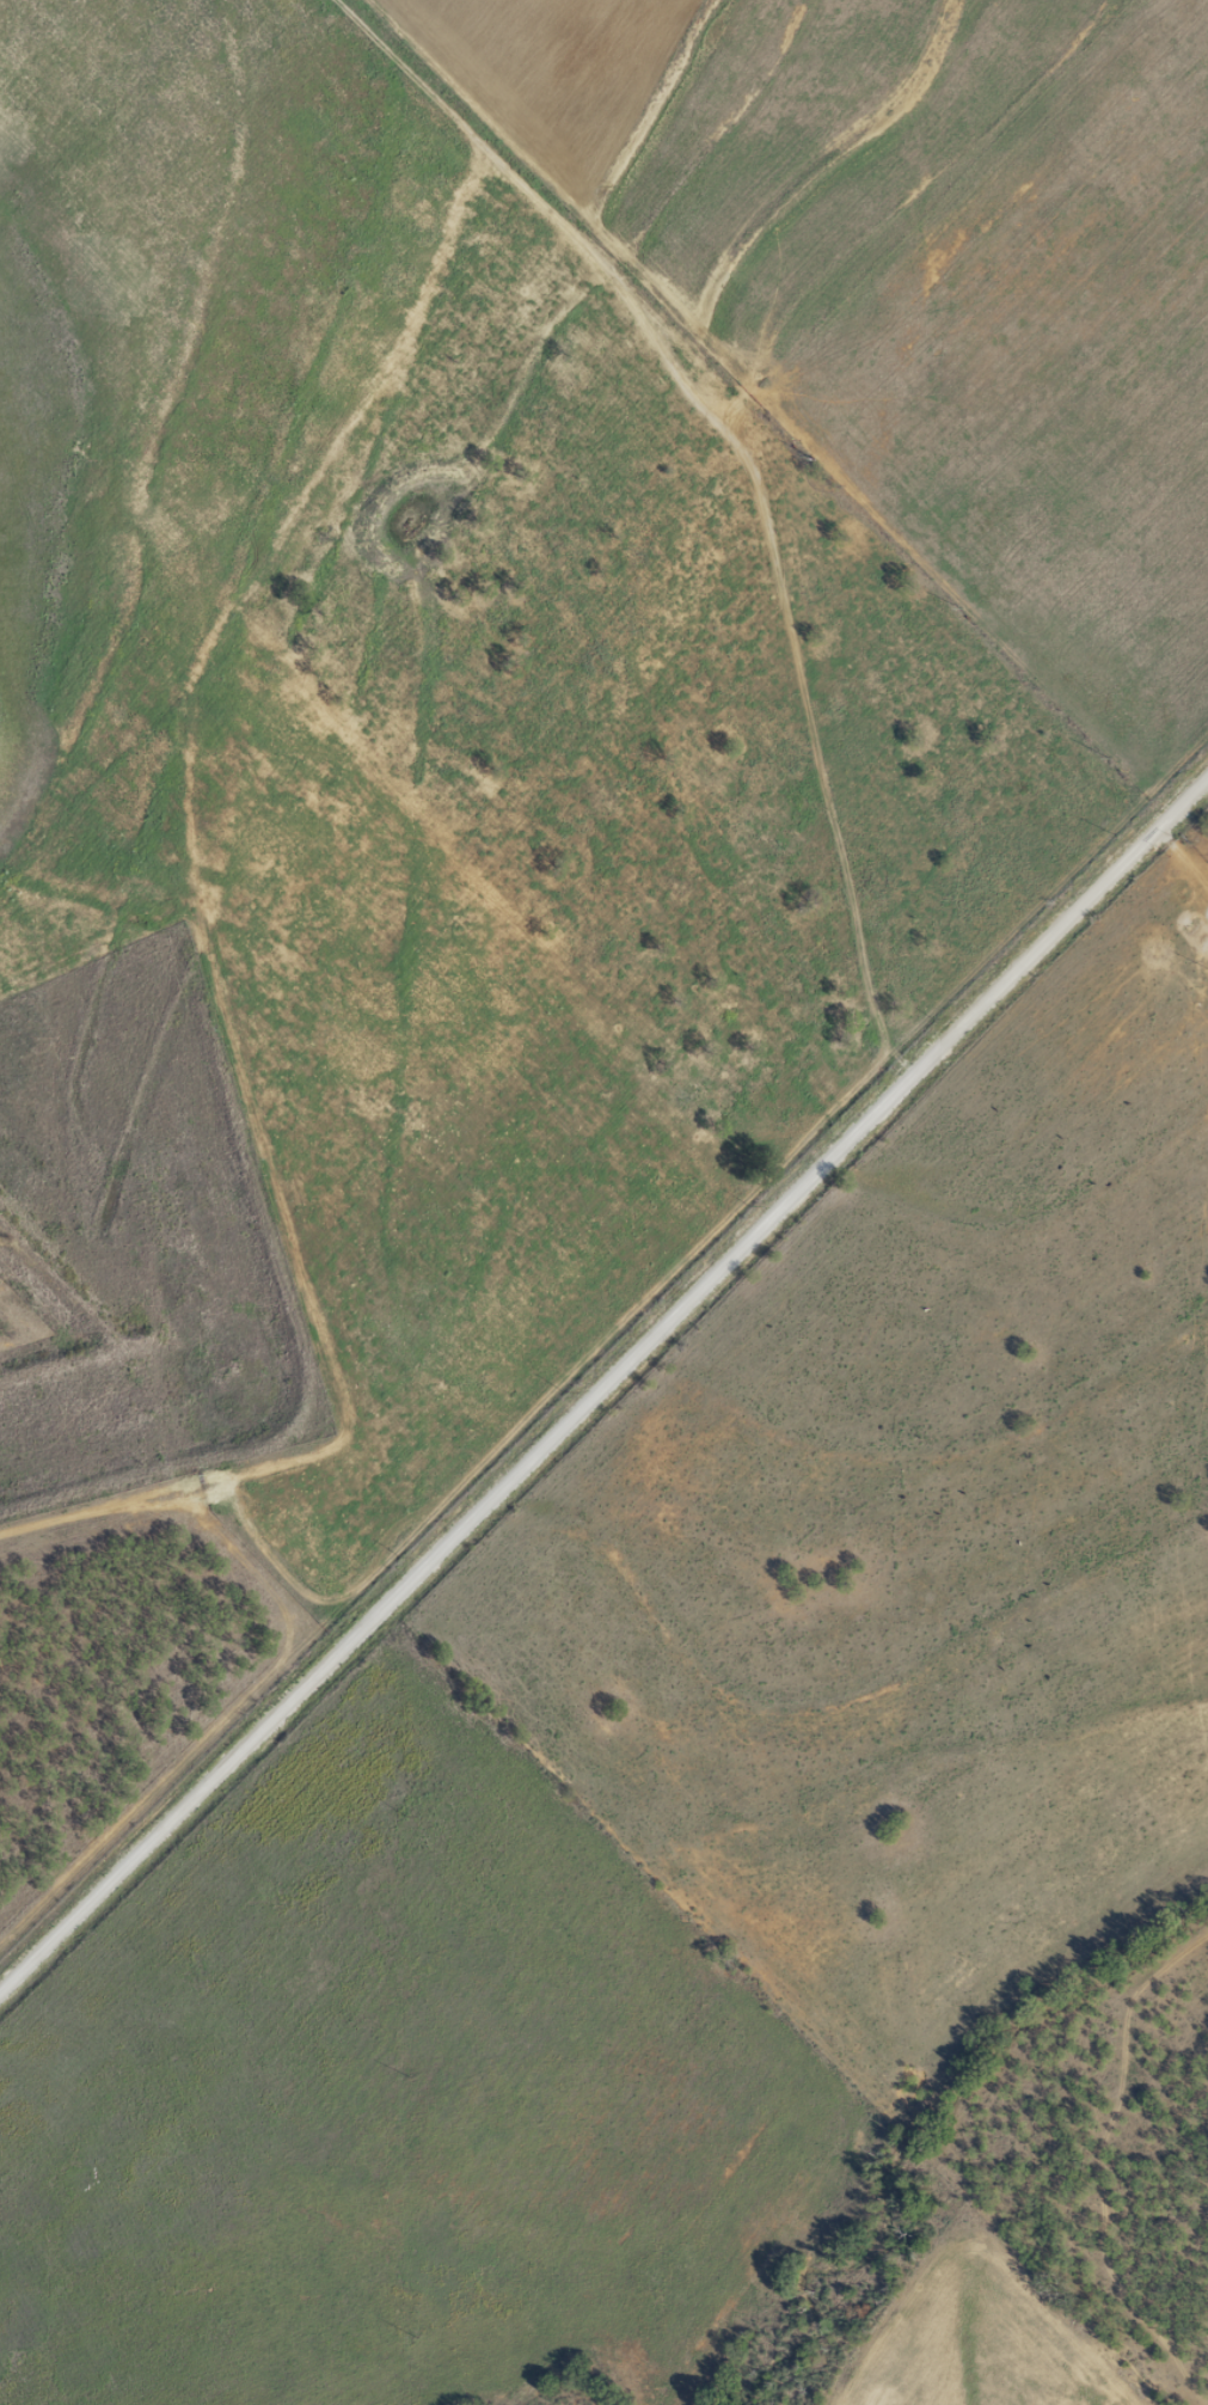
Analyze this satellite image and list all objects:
road: (603, 1383)

